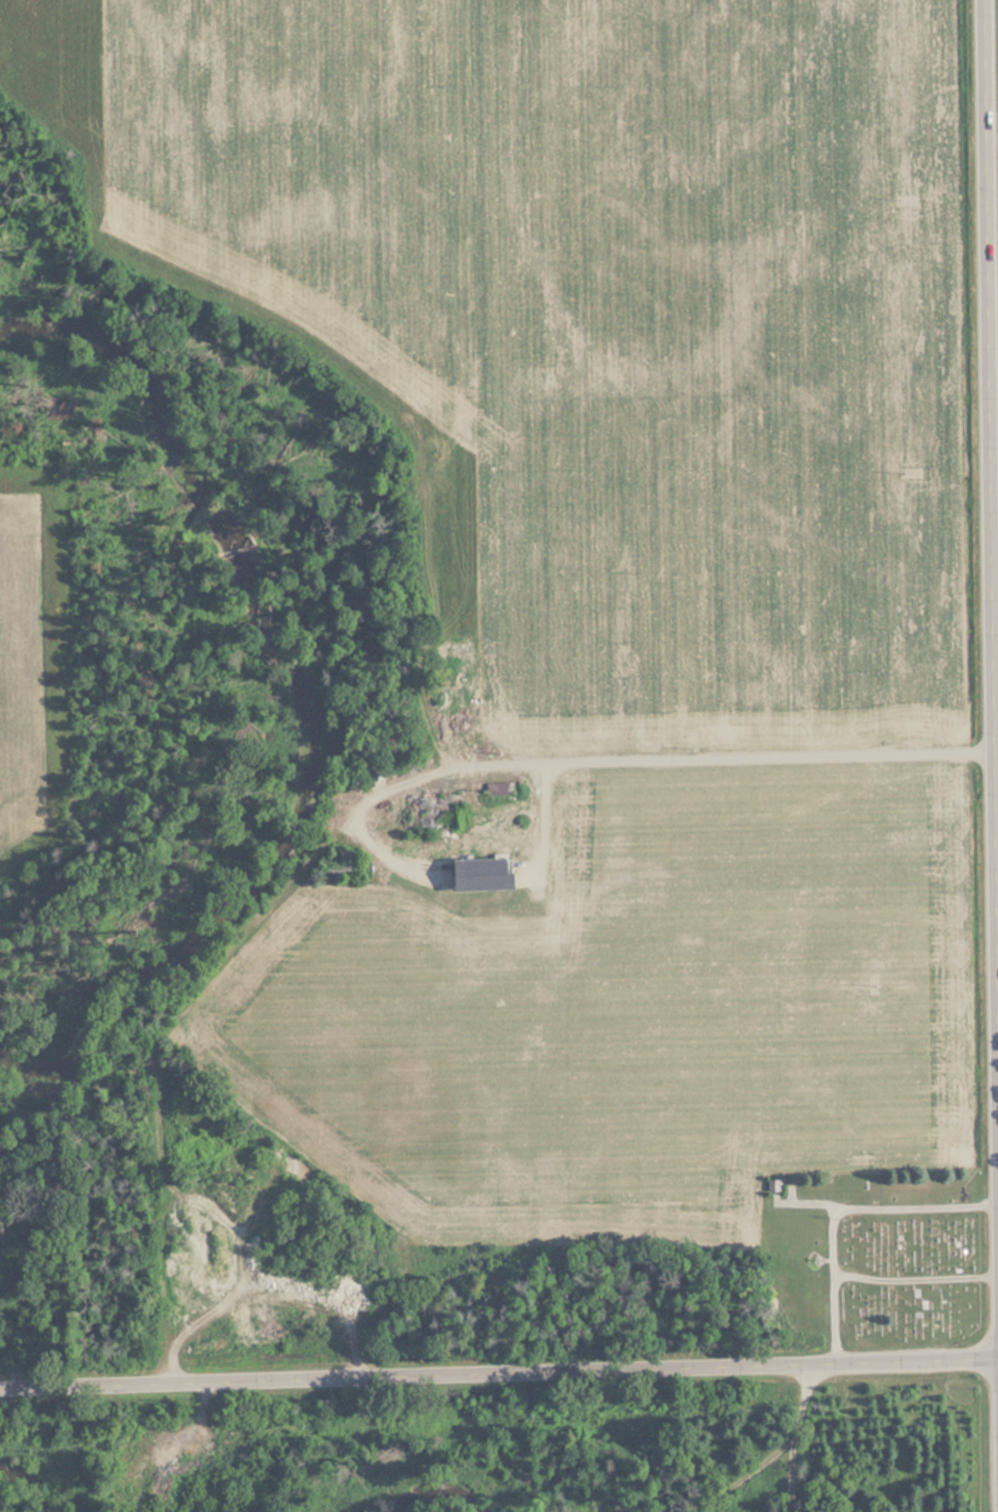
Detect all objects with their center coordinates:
road: (991, 564)
river: (381, 640)
building: (421, 815)
road: (325, 833)
building: (476, 866)
road: (843, 1210)
park: (876, 1261)
road: (914, 1280)
road: (329, 1295)
road: (498, 1369)
river: (29, 1495)
river: (428, 1499)

